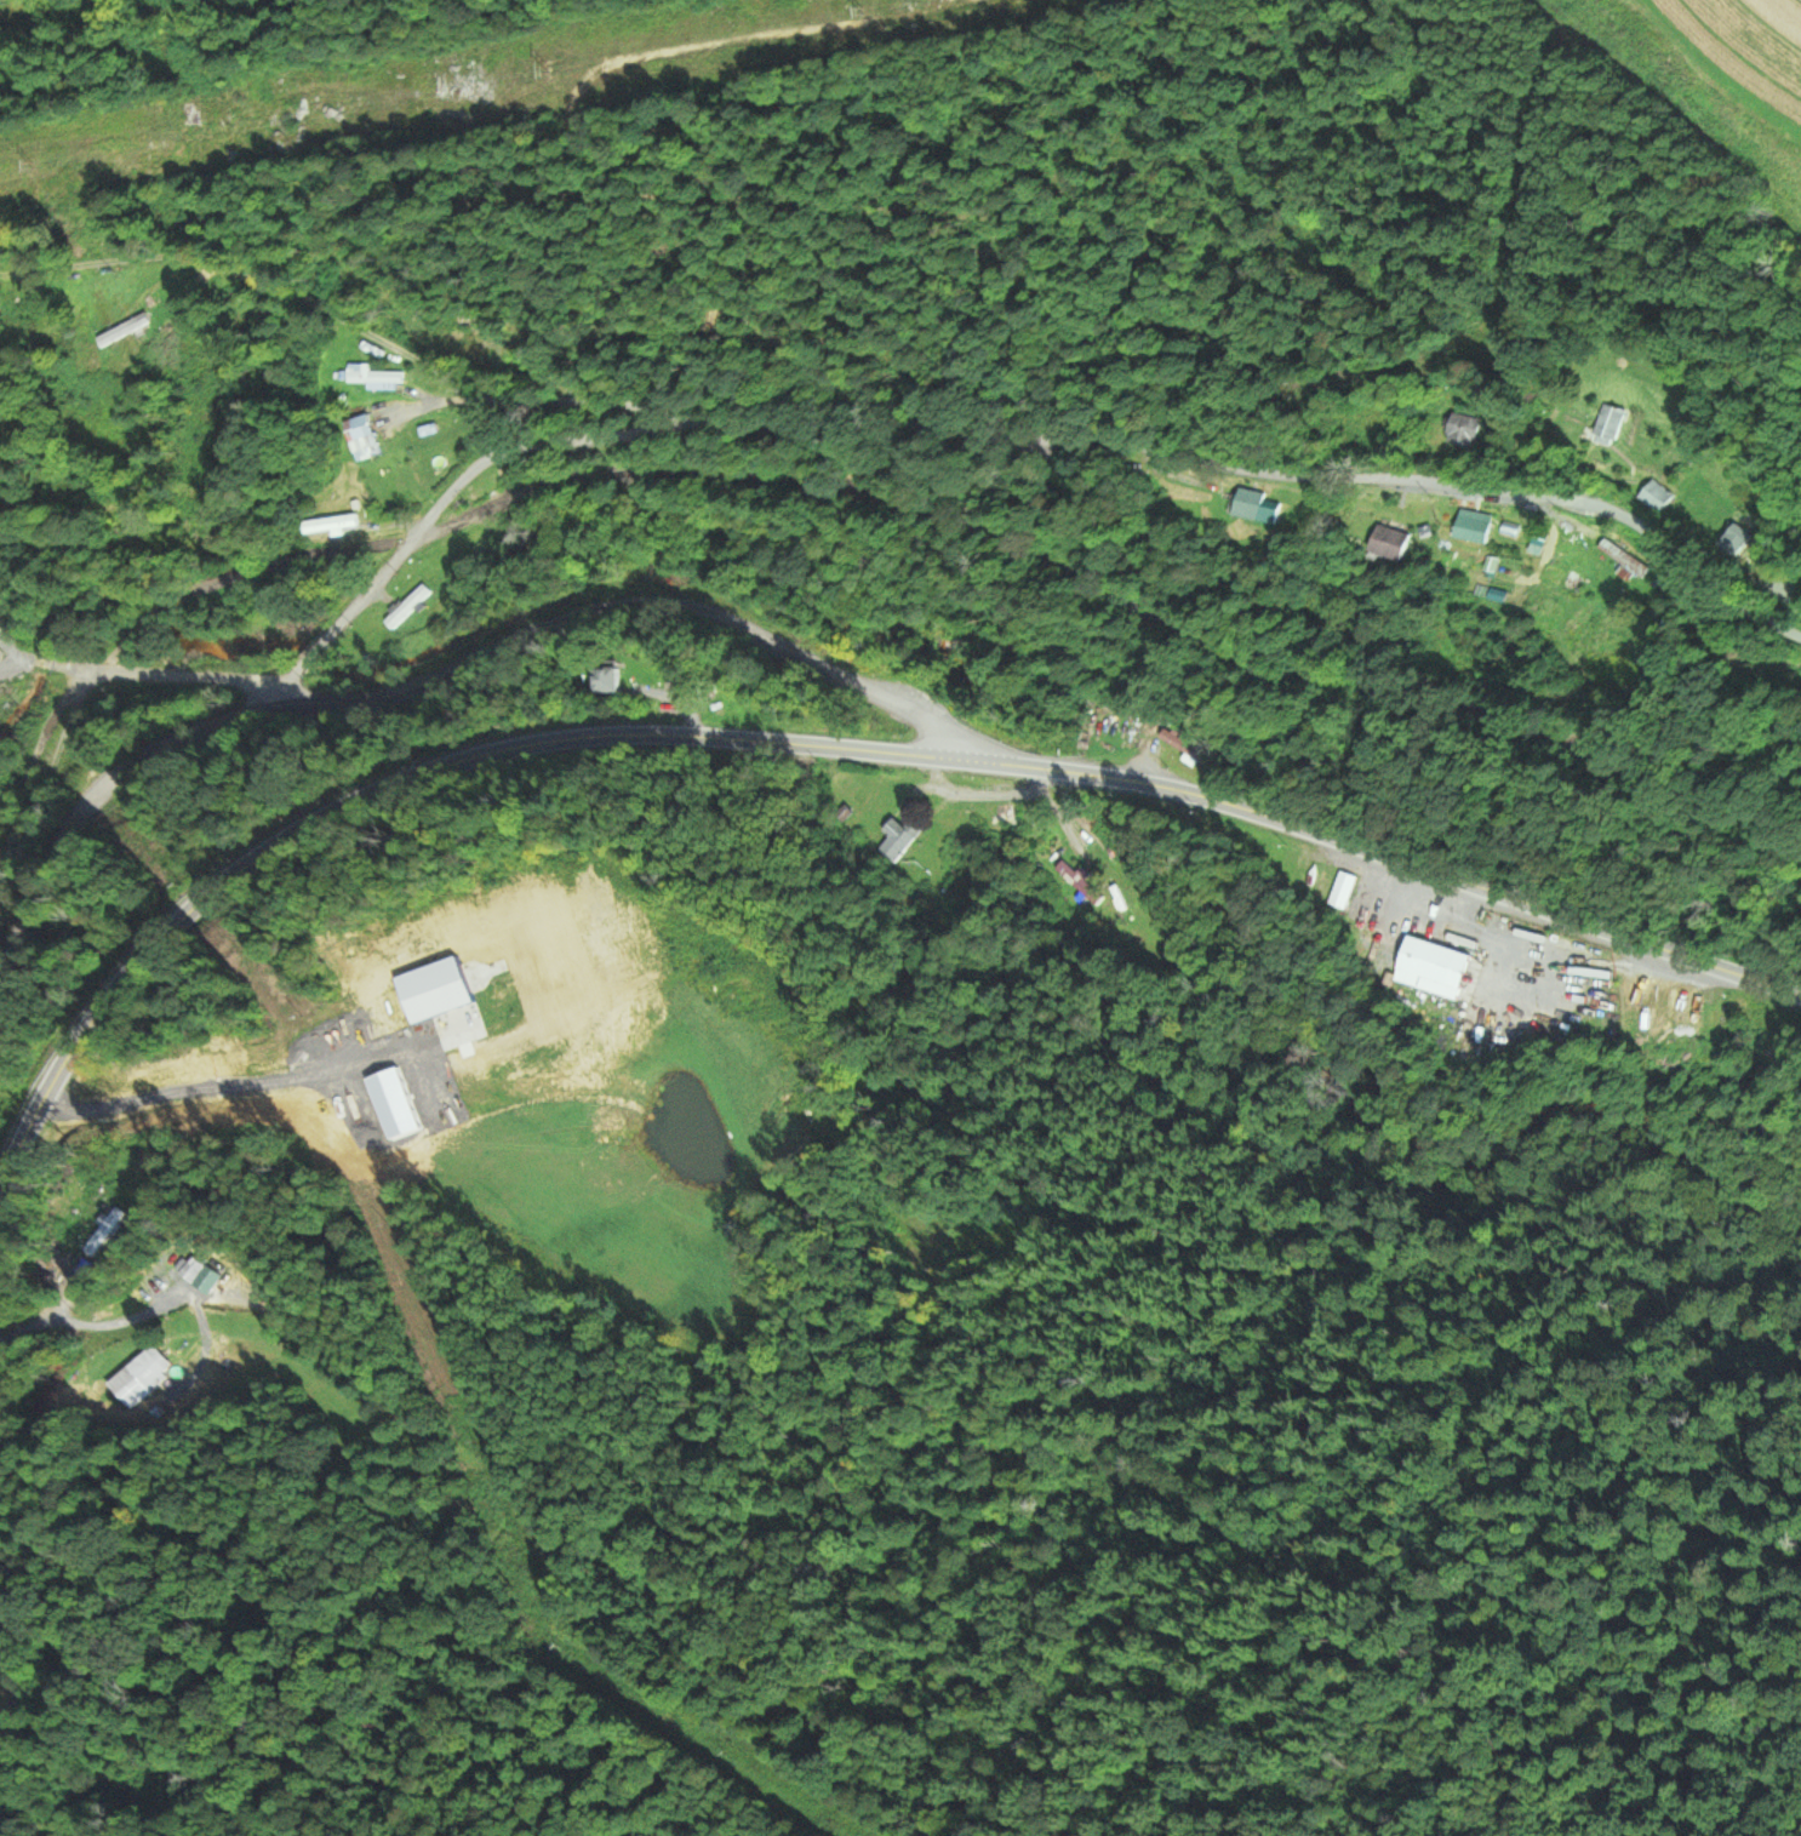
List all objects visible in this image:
power tower: (863, 1)
power tower: (548, 57)
power tower: (32, 166)
road: (326, 282)
building: (122, 330)
building: (1611, 422)
building: (1462, 429)
building: (360, 433)
road: (1001, 433)
building: (421, 435)
building: (1656, 496)
building: (1248, 503)
building: (330, 524)
building: (1474, 526)
building: (1390, 543)
building: (1622, 557)
building: (407, 607)
road: (654, 608)
road: (160, 670)
road: (825, 745)
road: (115, 778)
building: (1013, 817)
building: (899, 837)
building: (1076, 882)
building: (1342, 890)
building: (1433, 968)
road: (902, 1115)
building: (193, 1269)
building: (141, 1375)

